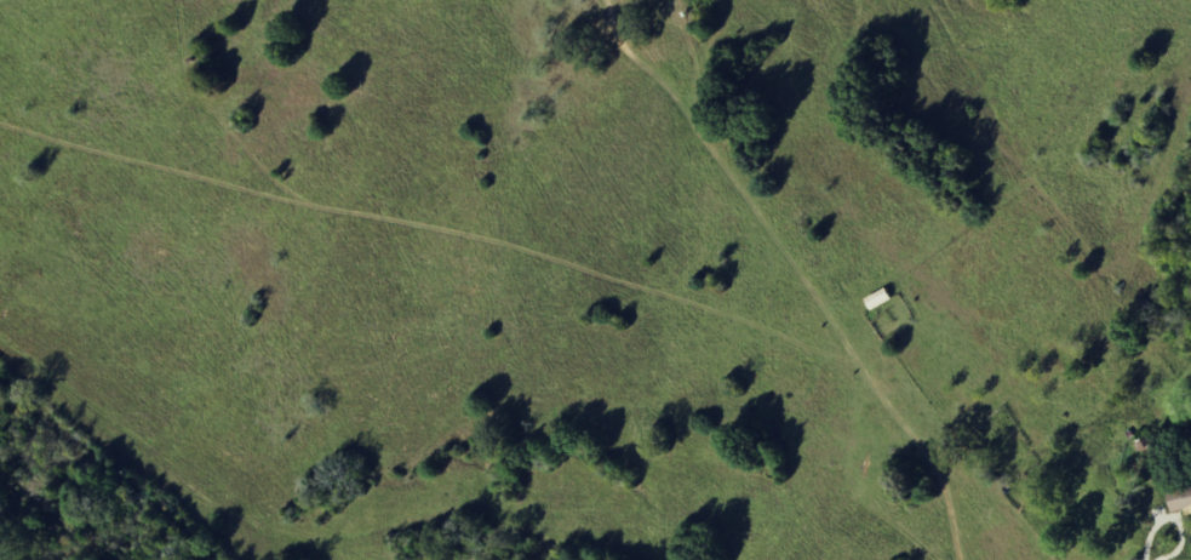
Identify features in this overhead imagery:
road: (860, 358)
building: (1179, 499)
road: (1151, 536)

